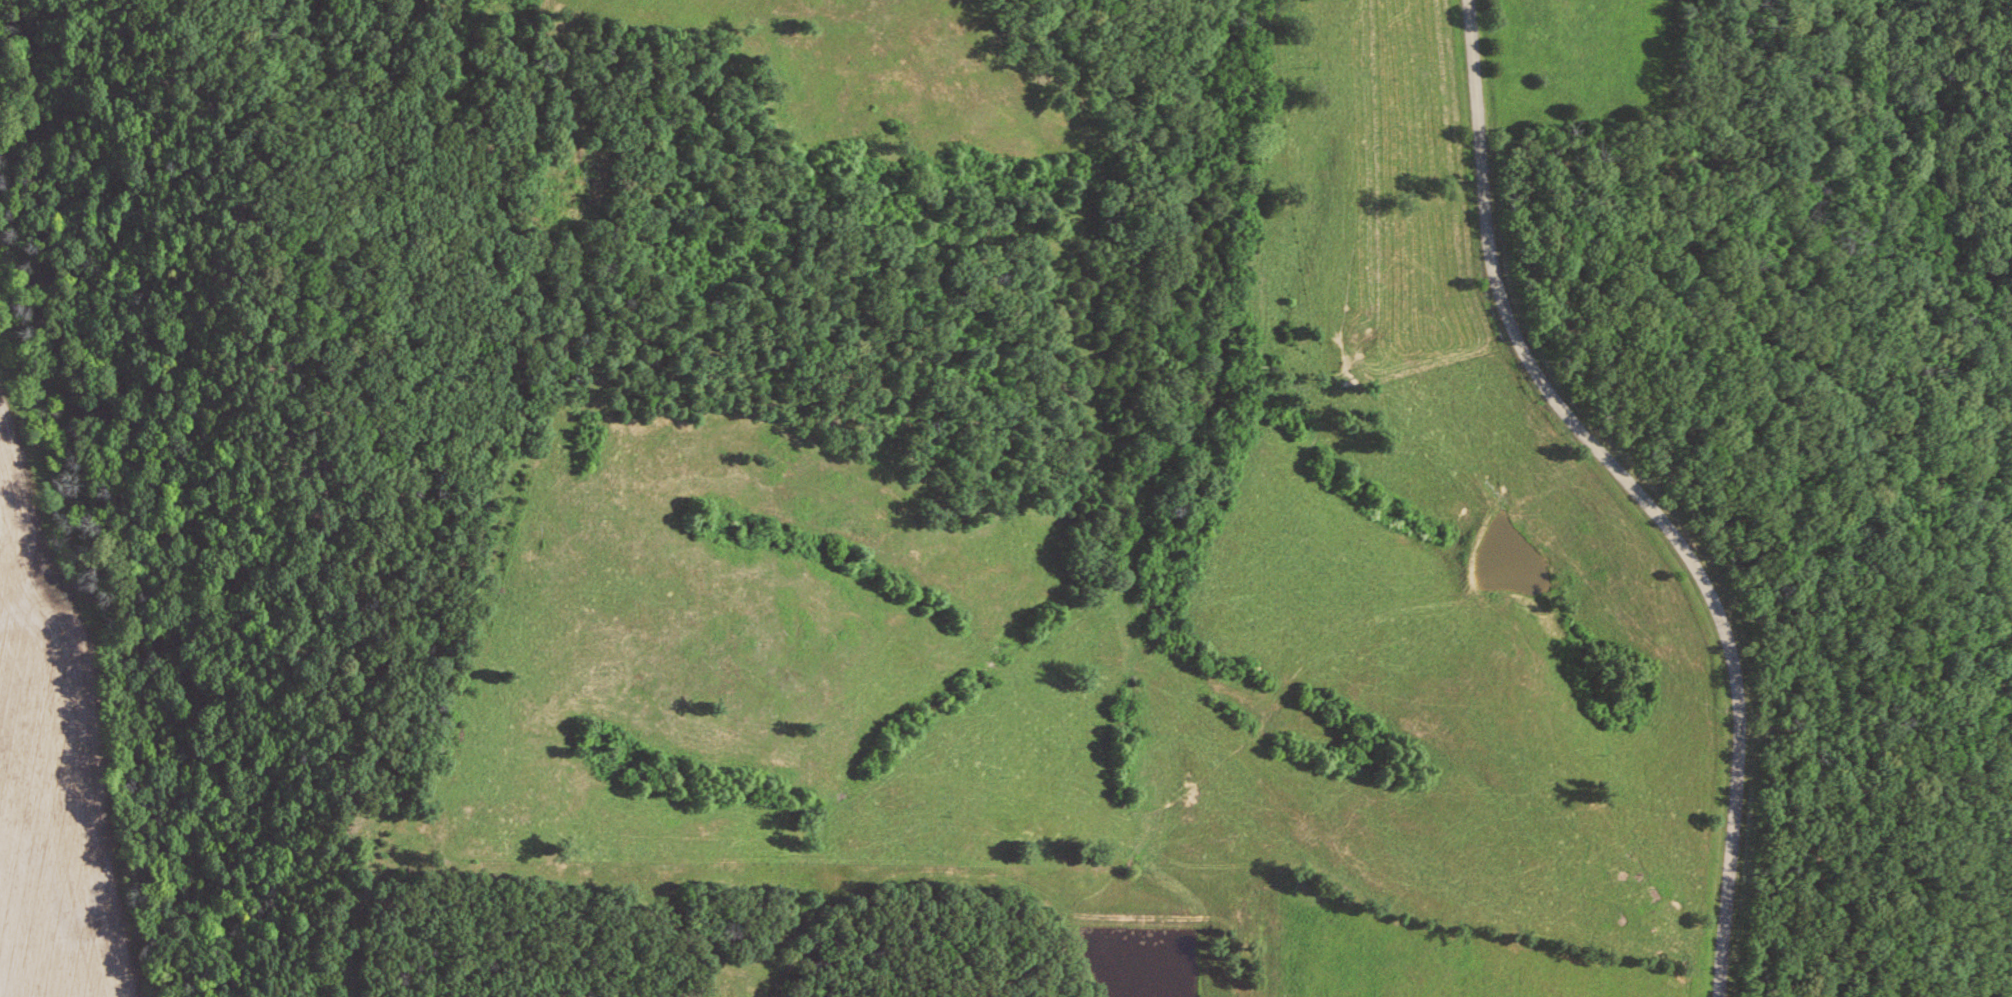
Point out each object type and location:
road: (1631, 492)

